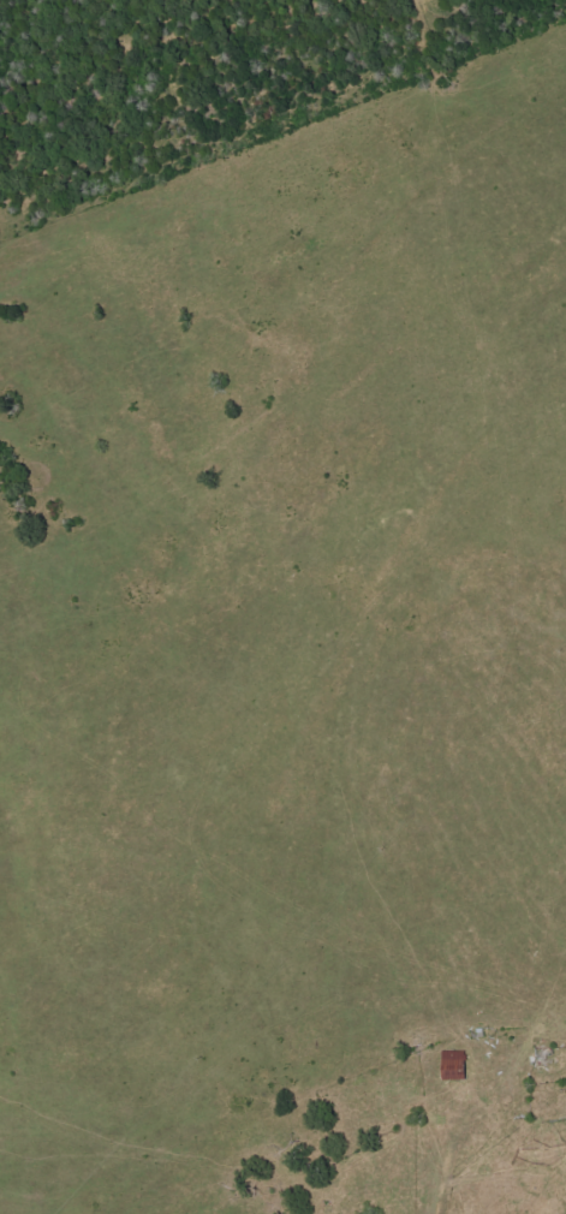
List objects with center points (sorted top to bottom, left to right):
building: (457, 1064)

